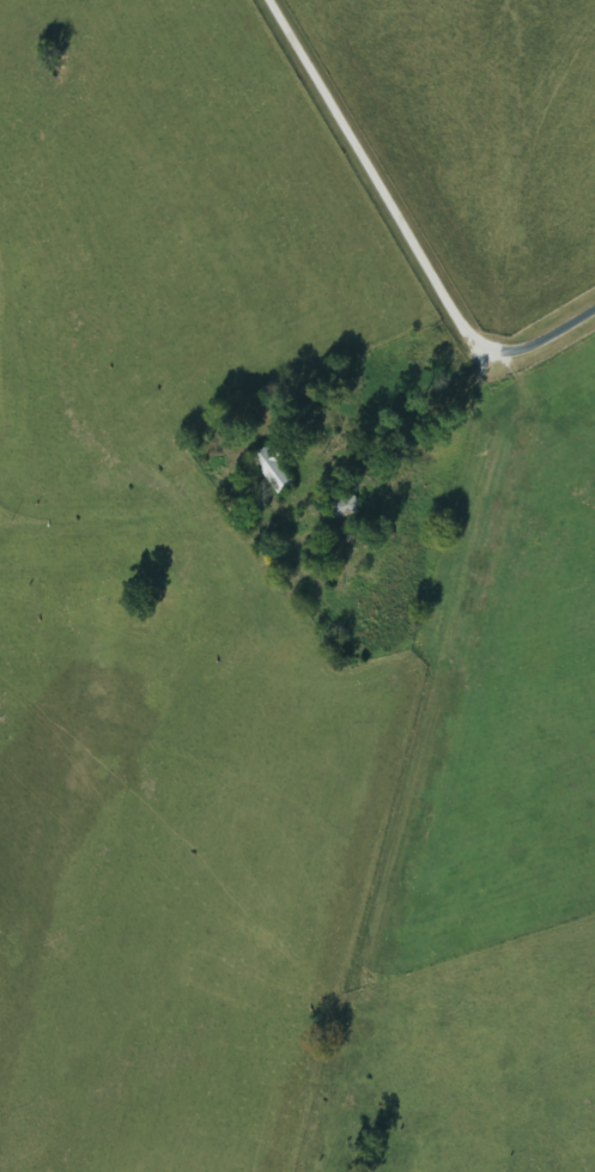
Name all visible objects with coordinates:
road: (399, 230)
building: (275, 469)

